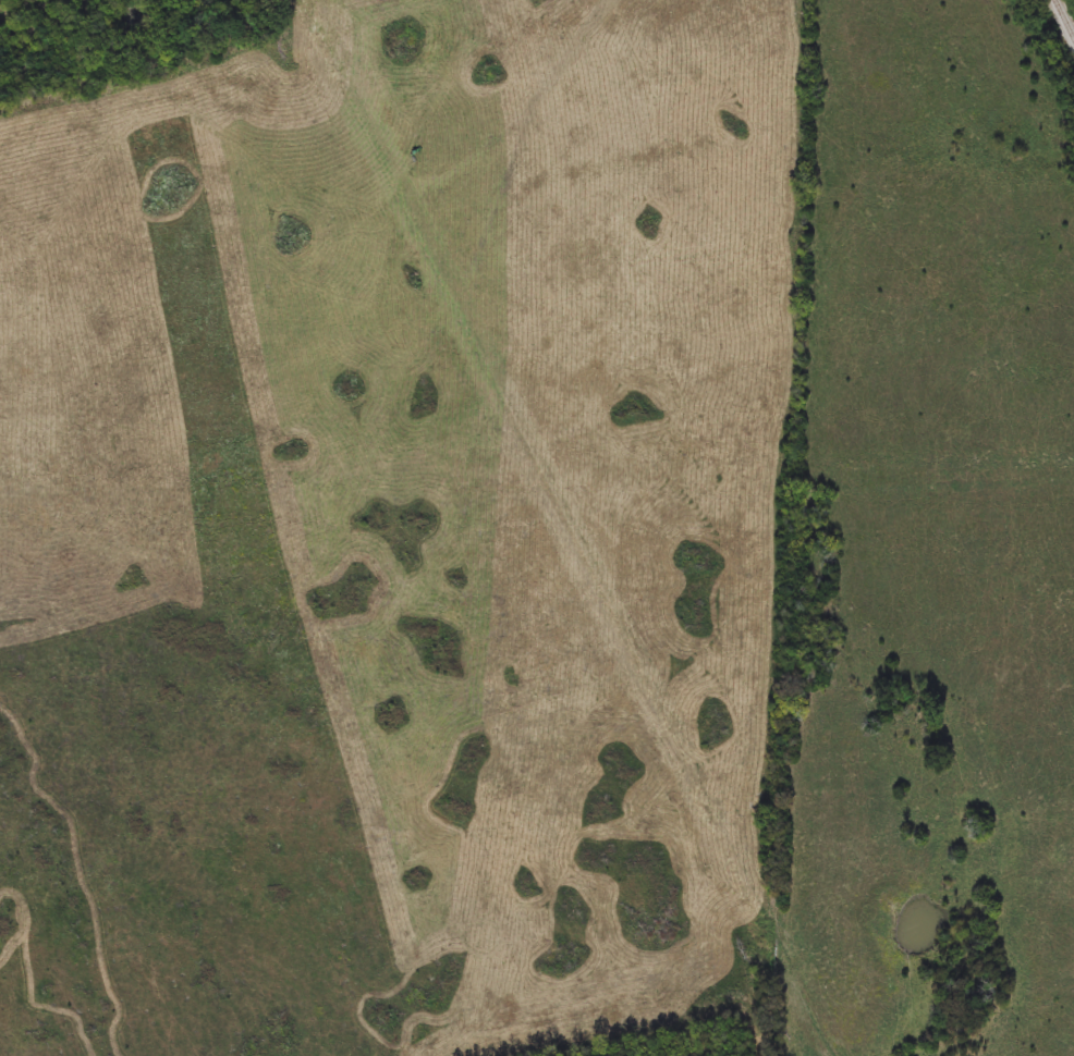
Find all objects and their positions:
railway: (1065, 15)

